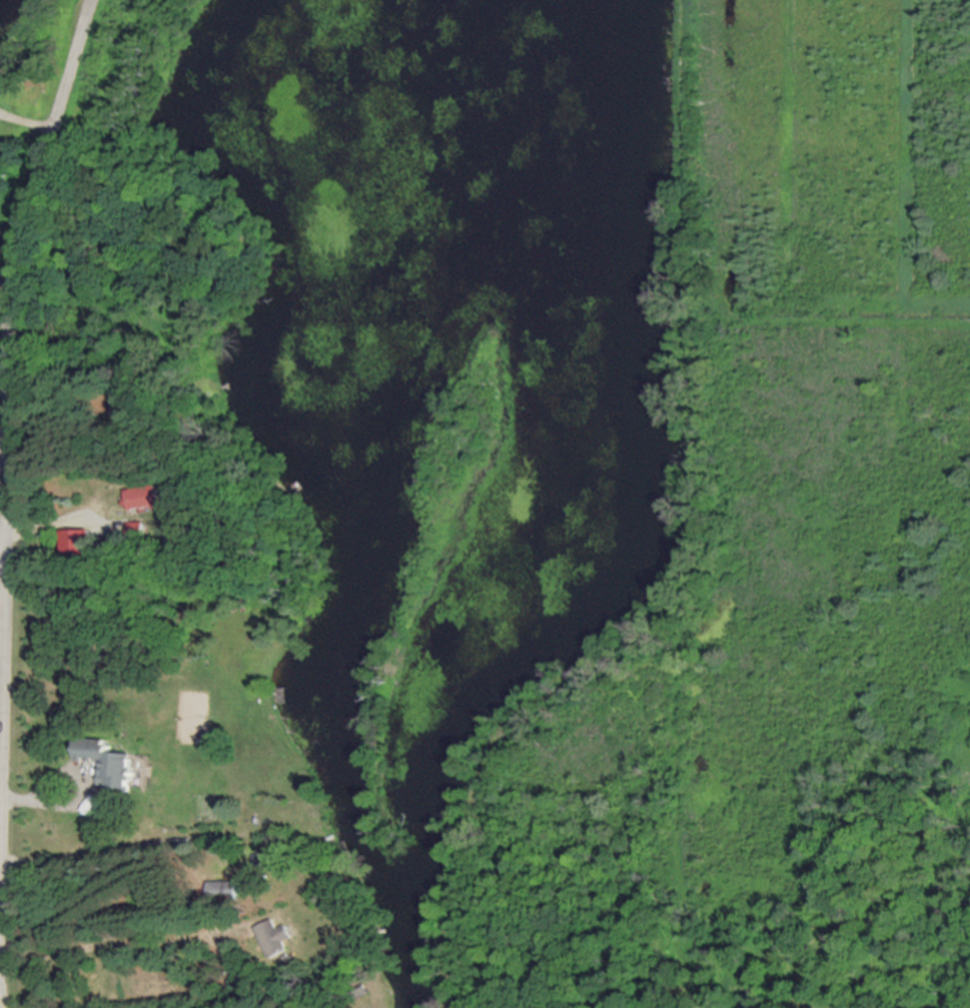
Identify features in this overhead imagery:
road: (9, 272)
road: (4, 278)
building: (140, 498)
road: (0, 555)
road: (0, 677)
building: (105, 763)
road: (81, 799)
building: (221, 891)
building: (272, 939)
road: (114, 945)

